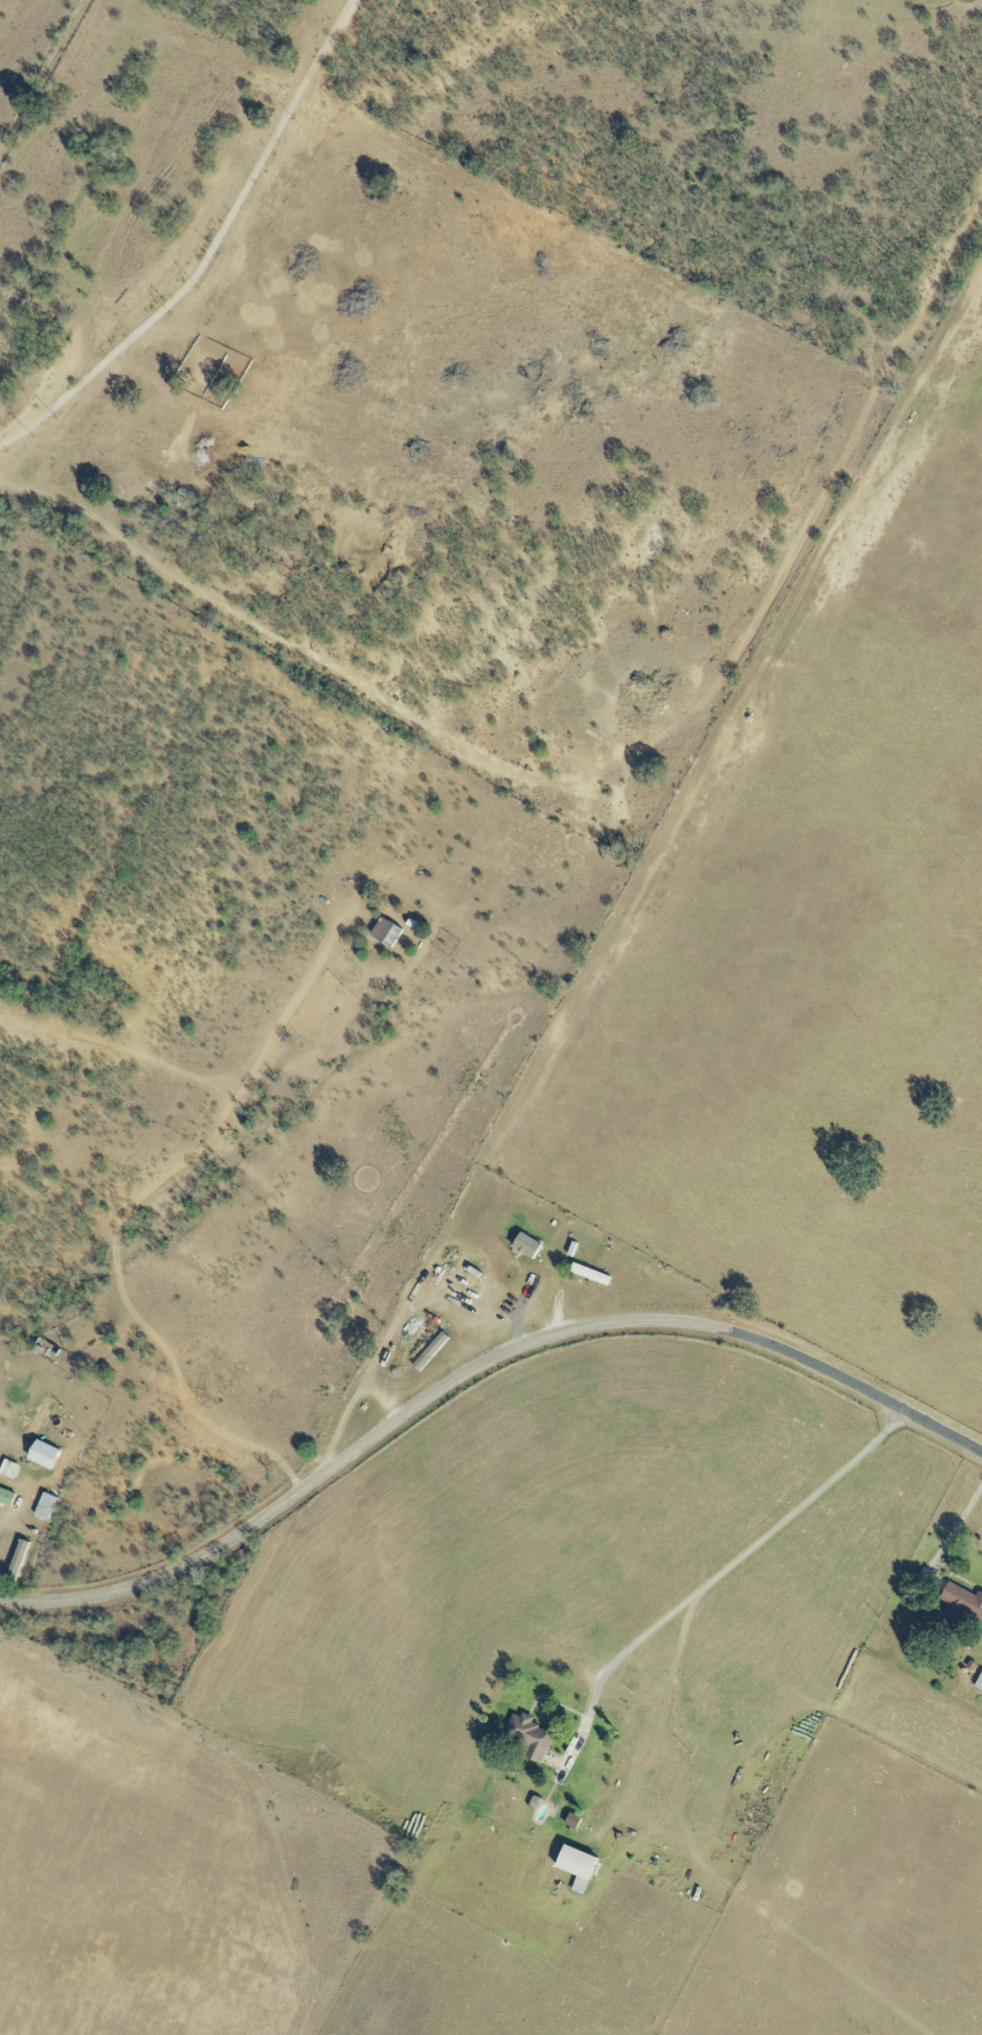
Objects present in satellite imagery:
road: (209, 251)
road: (44, 497)
road: (646, 750)
building: (386, 932)
road: (570, 1010)
road: (123, 1213)
building: (527, 1244)
road: (415, 1294)
road: (572, 1327)
building: (34, 1418)
building: (43, 1454)
building: (9, 1468)
building: (6, 1496)
building: (46, 1505)
road: (5, 1520)
road: (955, 1528)
road: (725, 1563)
road: (103, 1591)
building: (962, 1603)
building: (979, 1682)
building: (529, 1736)
road: (666, 1746)
building: (577, 1866)

